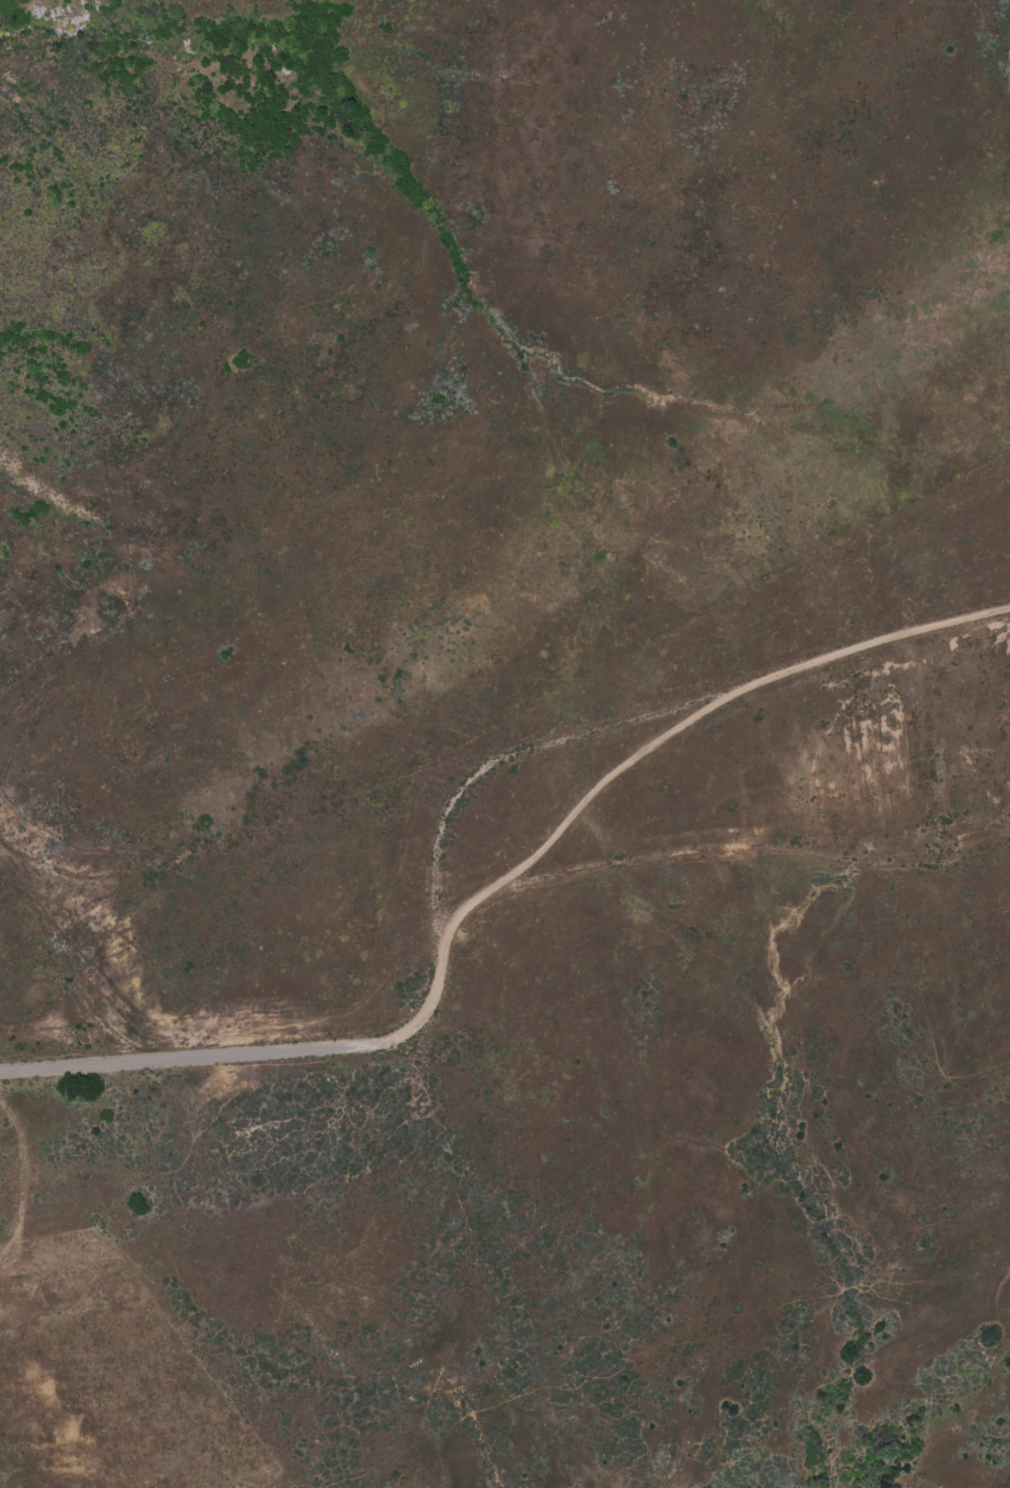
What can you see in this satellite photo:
road: (636, 758)
road: (189, 1059)

